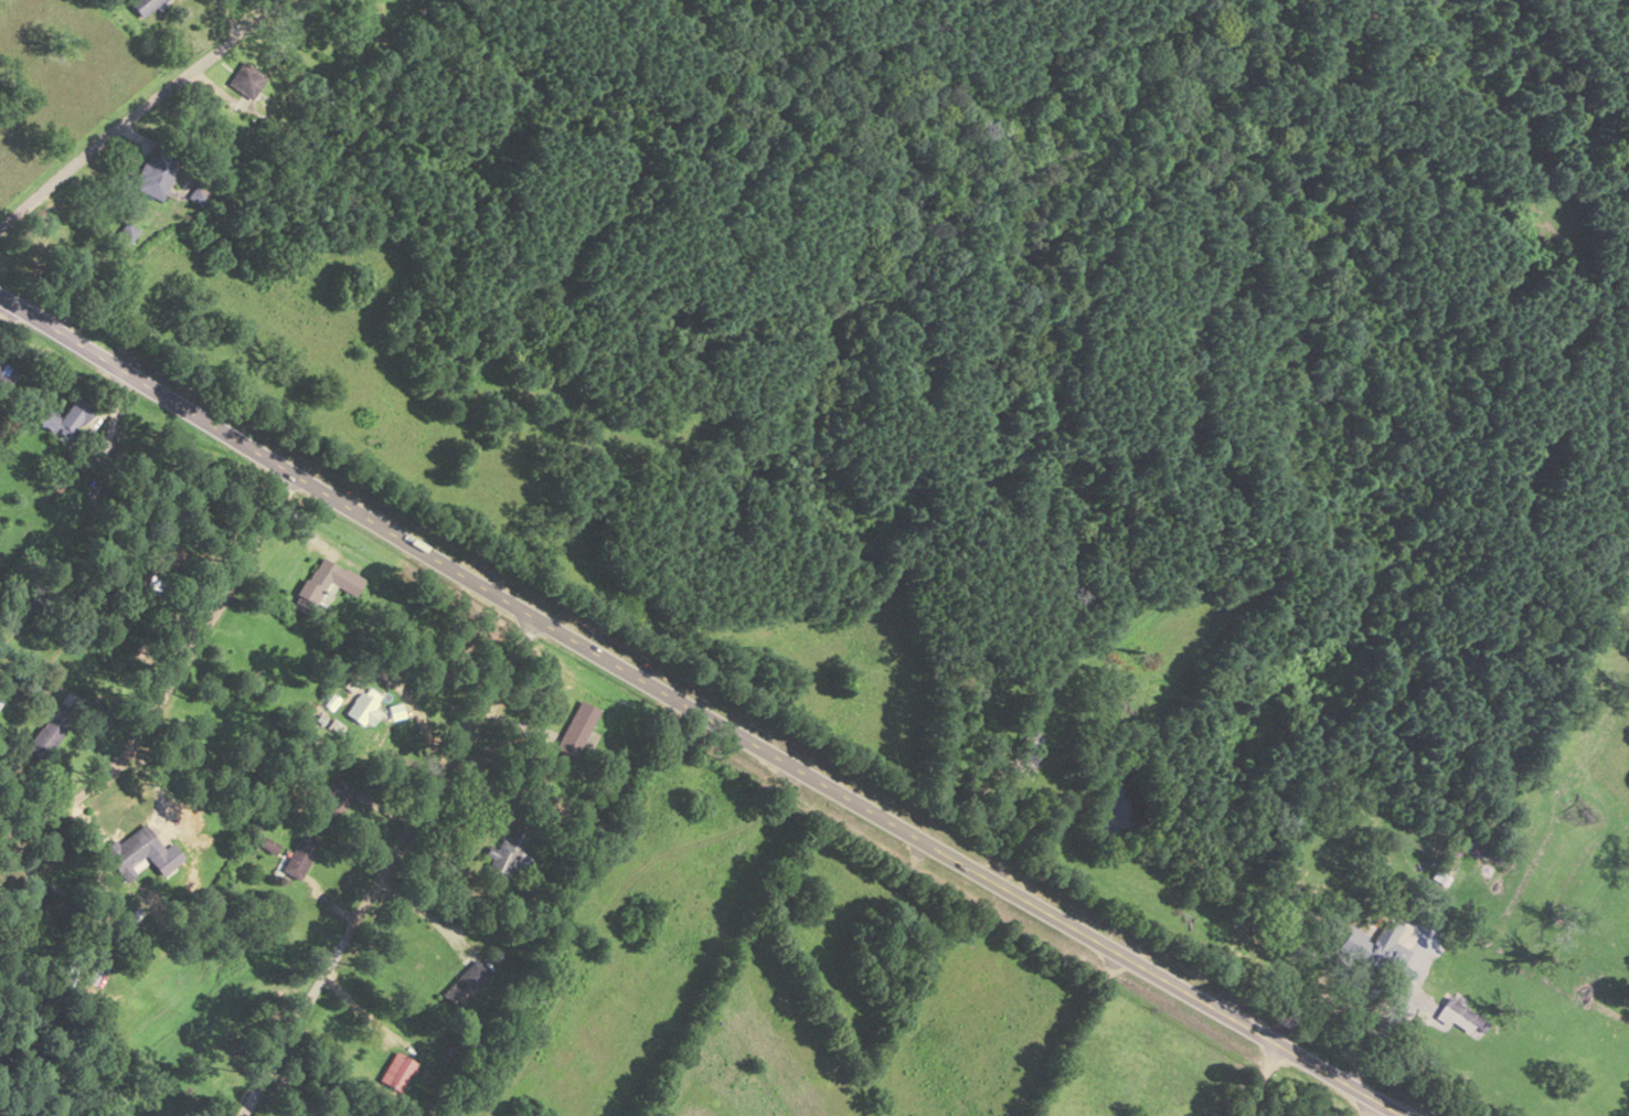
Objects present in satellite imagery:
building: (142, 6)
building: (246, 79)
building: (155, 173)
building: (125, 234)
building: (7, 372)
building: (67, 418)
building: (65, 472)
building: (323, 584)
road: (201, 625)
building: (361, 709)
road: (695, 711)
building: (574, 727)
building: (49, 730)
building: (1025, 751)
building: (338, 797)
building: (132, 850)
building: (509, 854)
building: (301, 855)
road: (385, 867)
building: (1386, 944)
building: (466, 981)
building: (1459, 1017)
road: (1077, 1034)
building: (396, 1071)
road: (1256, 1080)
gas station: (1364, 1108)
road: (1370, 1108)
building: (155, 1115)
building: (331, 1115)

